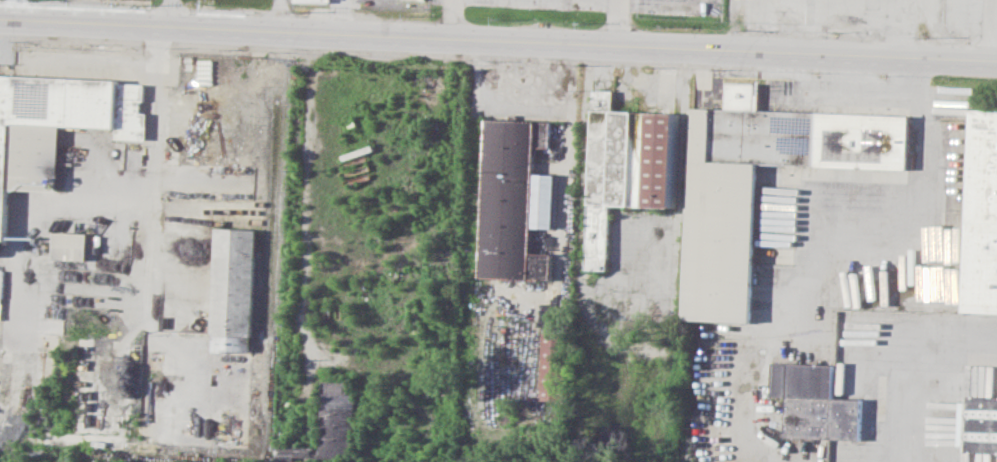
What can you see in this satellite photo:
road: (13, 10)
road: (169, 14)
road: (994, 14)
road: (278, 16)
road: (451, 20)
road: (617, 24)
road: (942, 31)
road: (989, 32)
road: (498, 42)
building: (56, 125)
road: (924, 141)
building: (624, 163)
road: (305, 196)
building: (512, 200)
building: (544, 200)
building: (982, 215)
building: (720, 243)
building: (71, 245)
building: (233, 288)
building: (554, 365)
road: (918, 375)
building: (815, 401)
building: (978, 423)
building: (331, 426)

